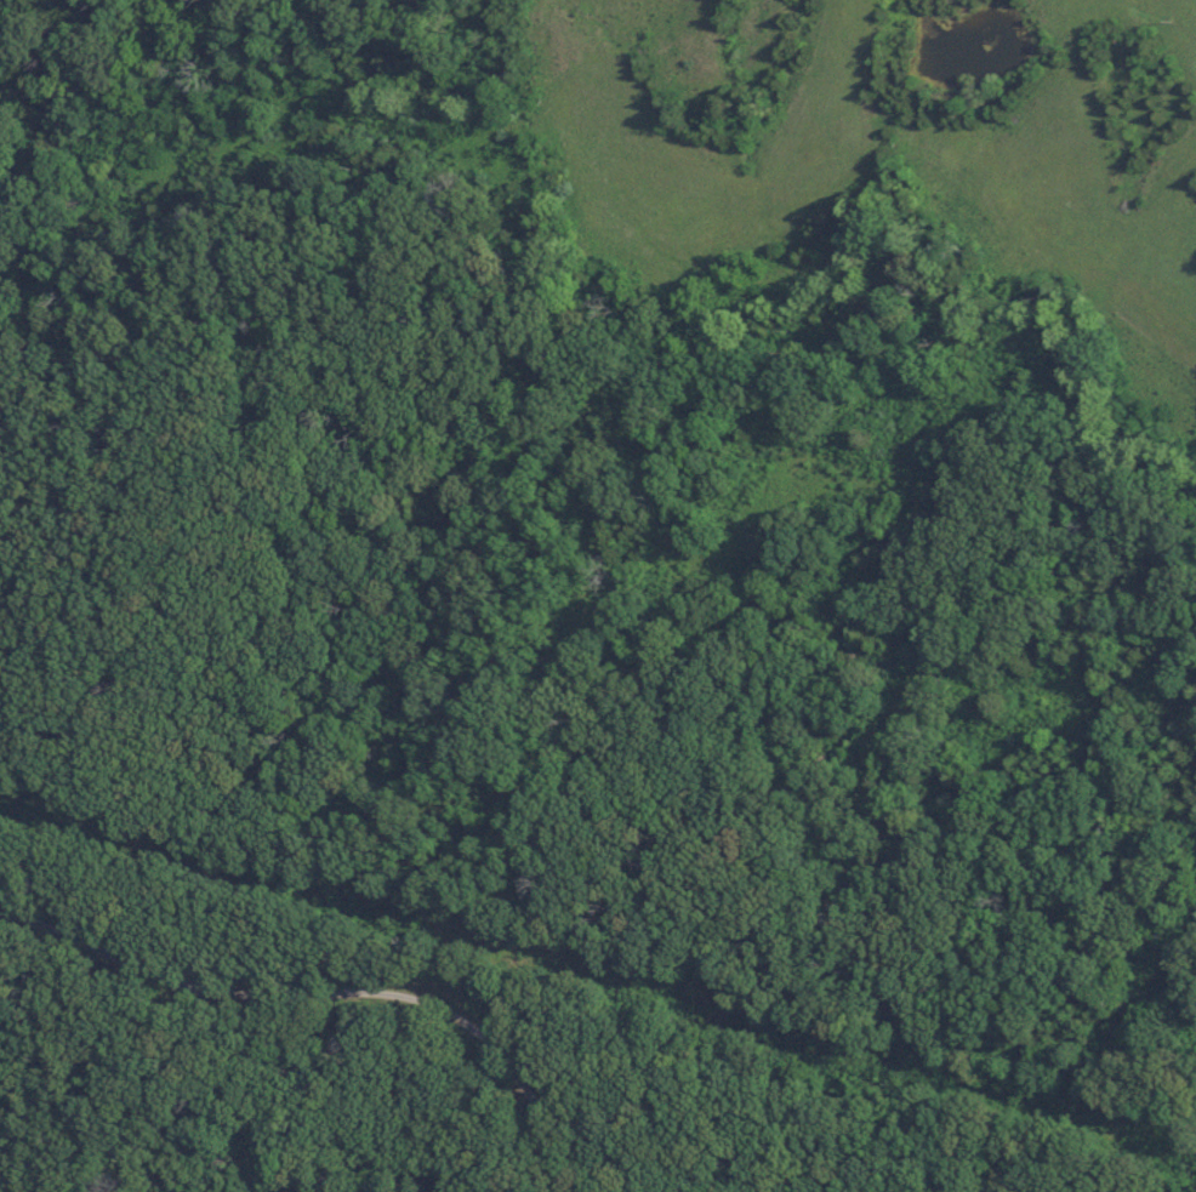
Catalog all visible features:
road: (331, 982)

